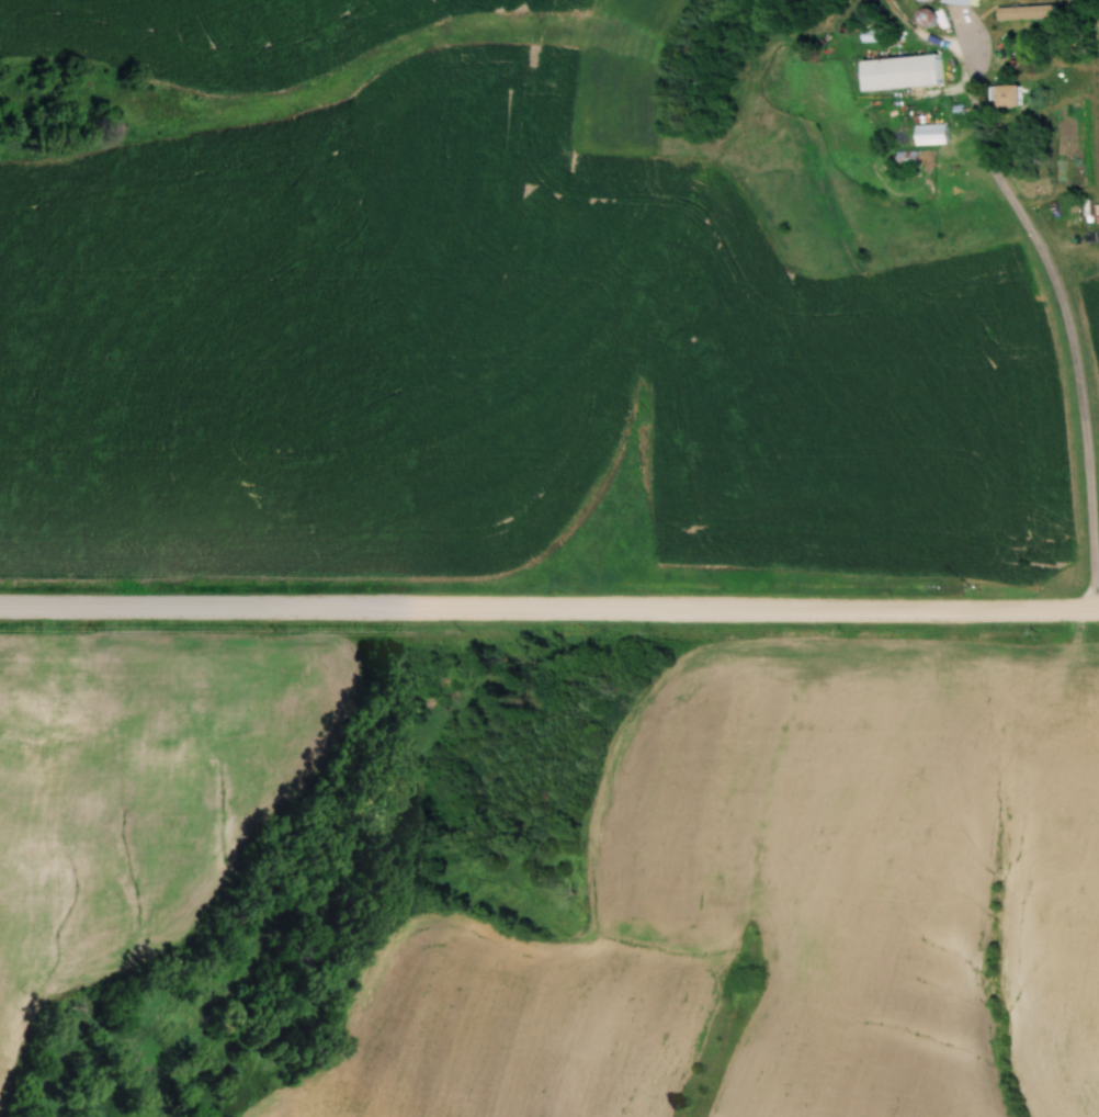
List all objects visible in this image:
building: (805, 0)
building: (913, 0)
building: (960, 1)
building: (1022, 12)
building: (921, 18)
building: (866, 29)
building: (898, 71)
building: (1002, 94)
building: (927, 134)
road: (1065, 311)
road: (549, 608)

